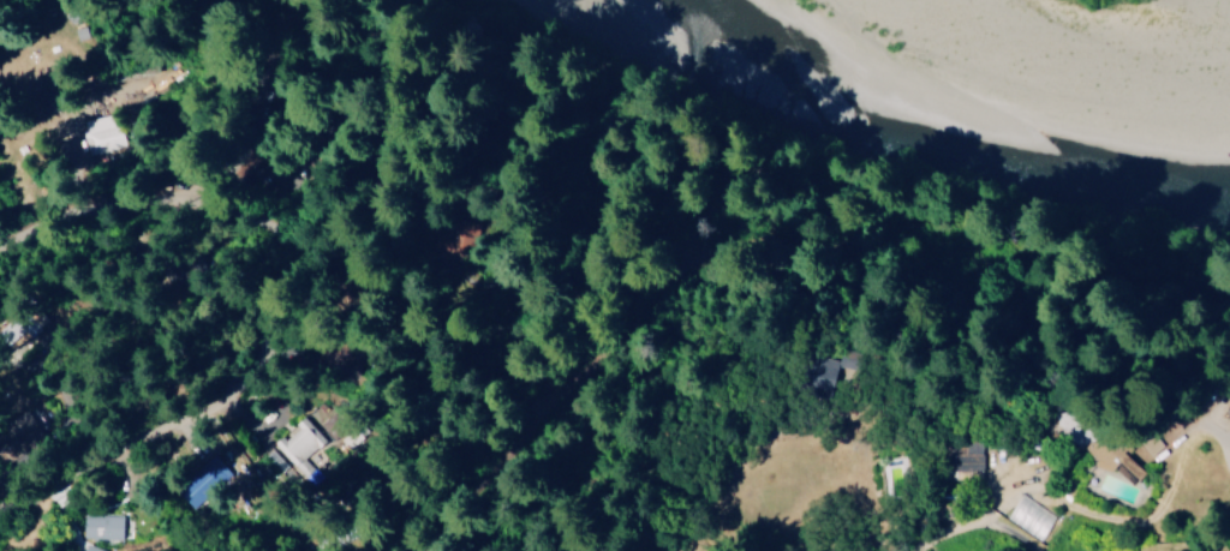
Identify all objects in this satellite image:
river: (961, 145)
road: (335, 178)
road: (357, 200)
road: (267, 297)
road: (1104, 394)
road: (1229, 423)
road: (1081, 455)
building: (971, 456)
building: (1119, 460)
building: (103, 526)
road: (350, 526)

